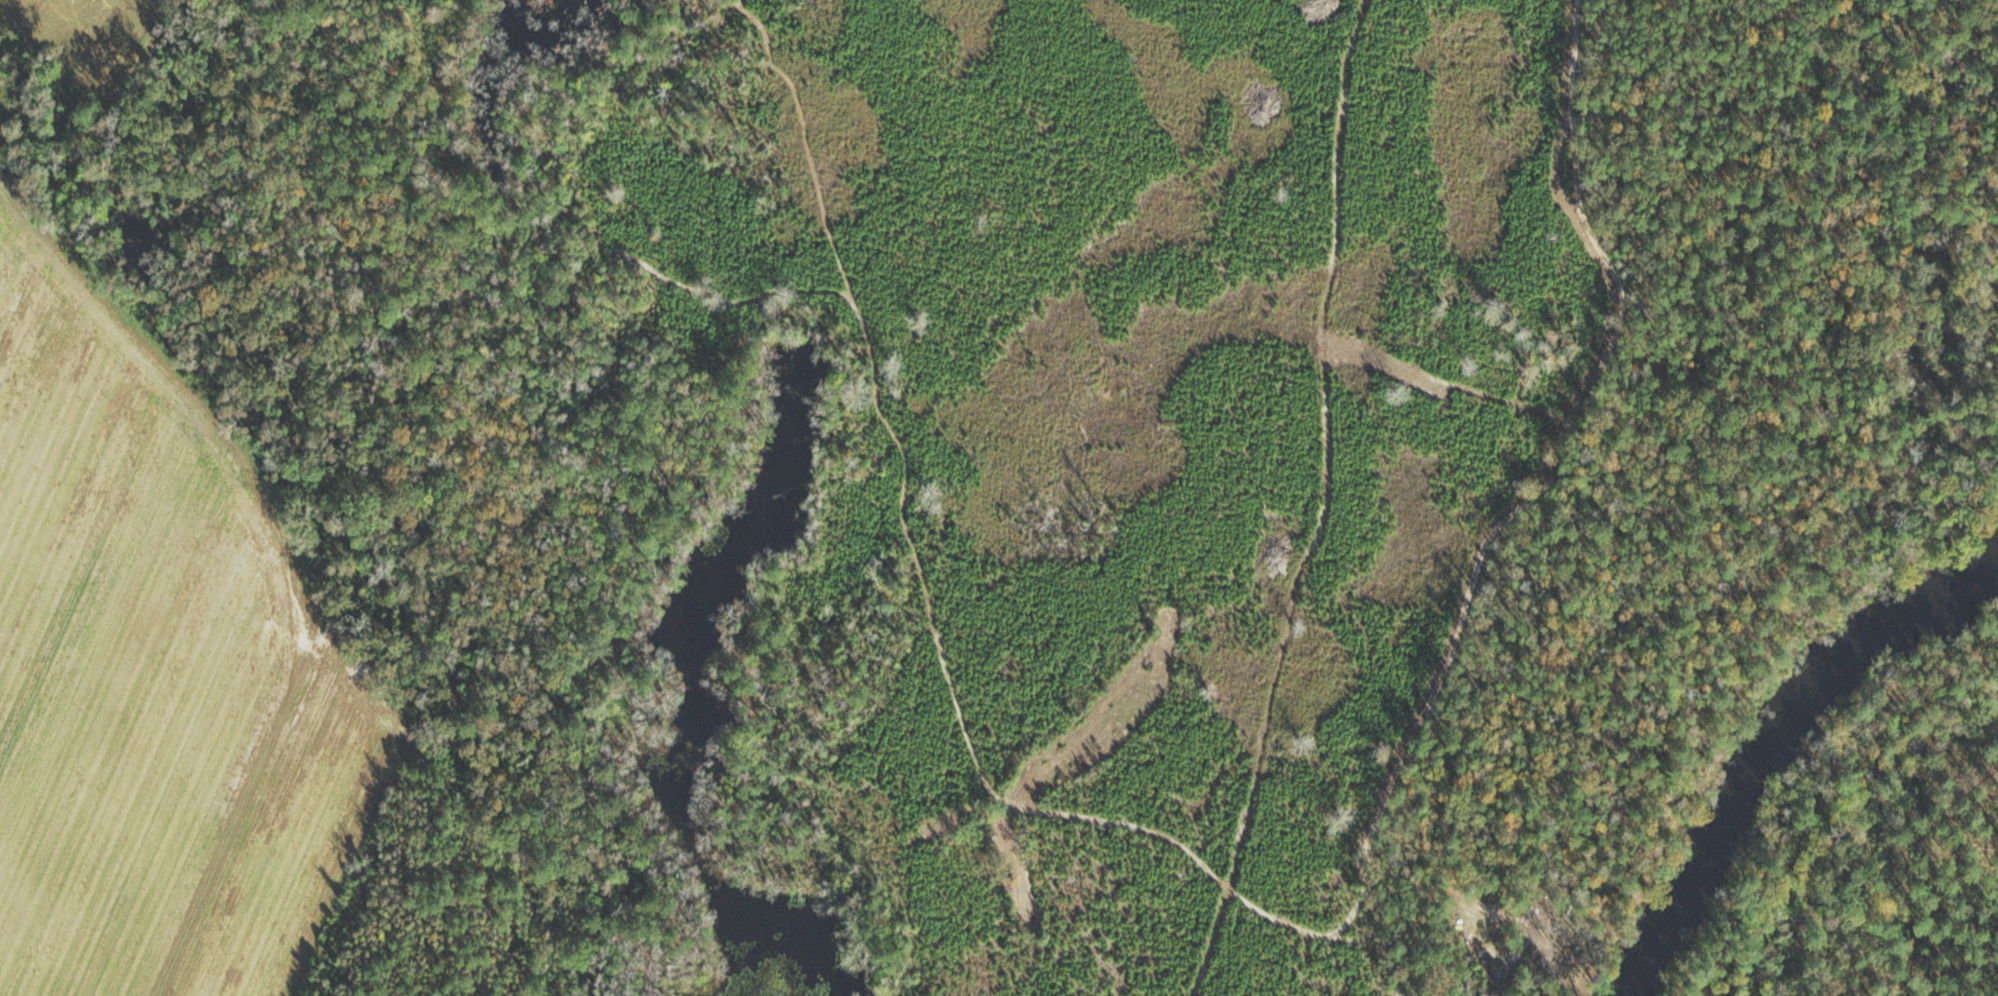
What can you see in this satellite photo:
river: (1775, 743)
airport: (1876, 852)

